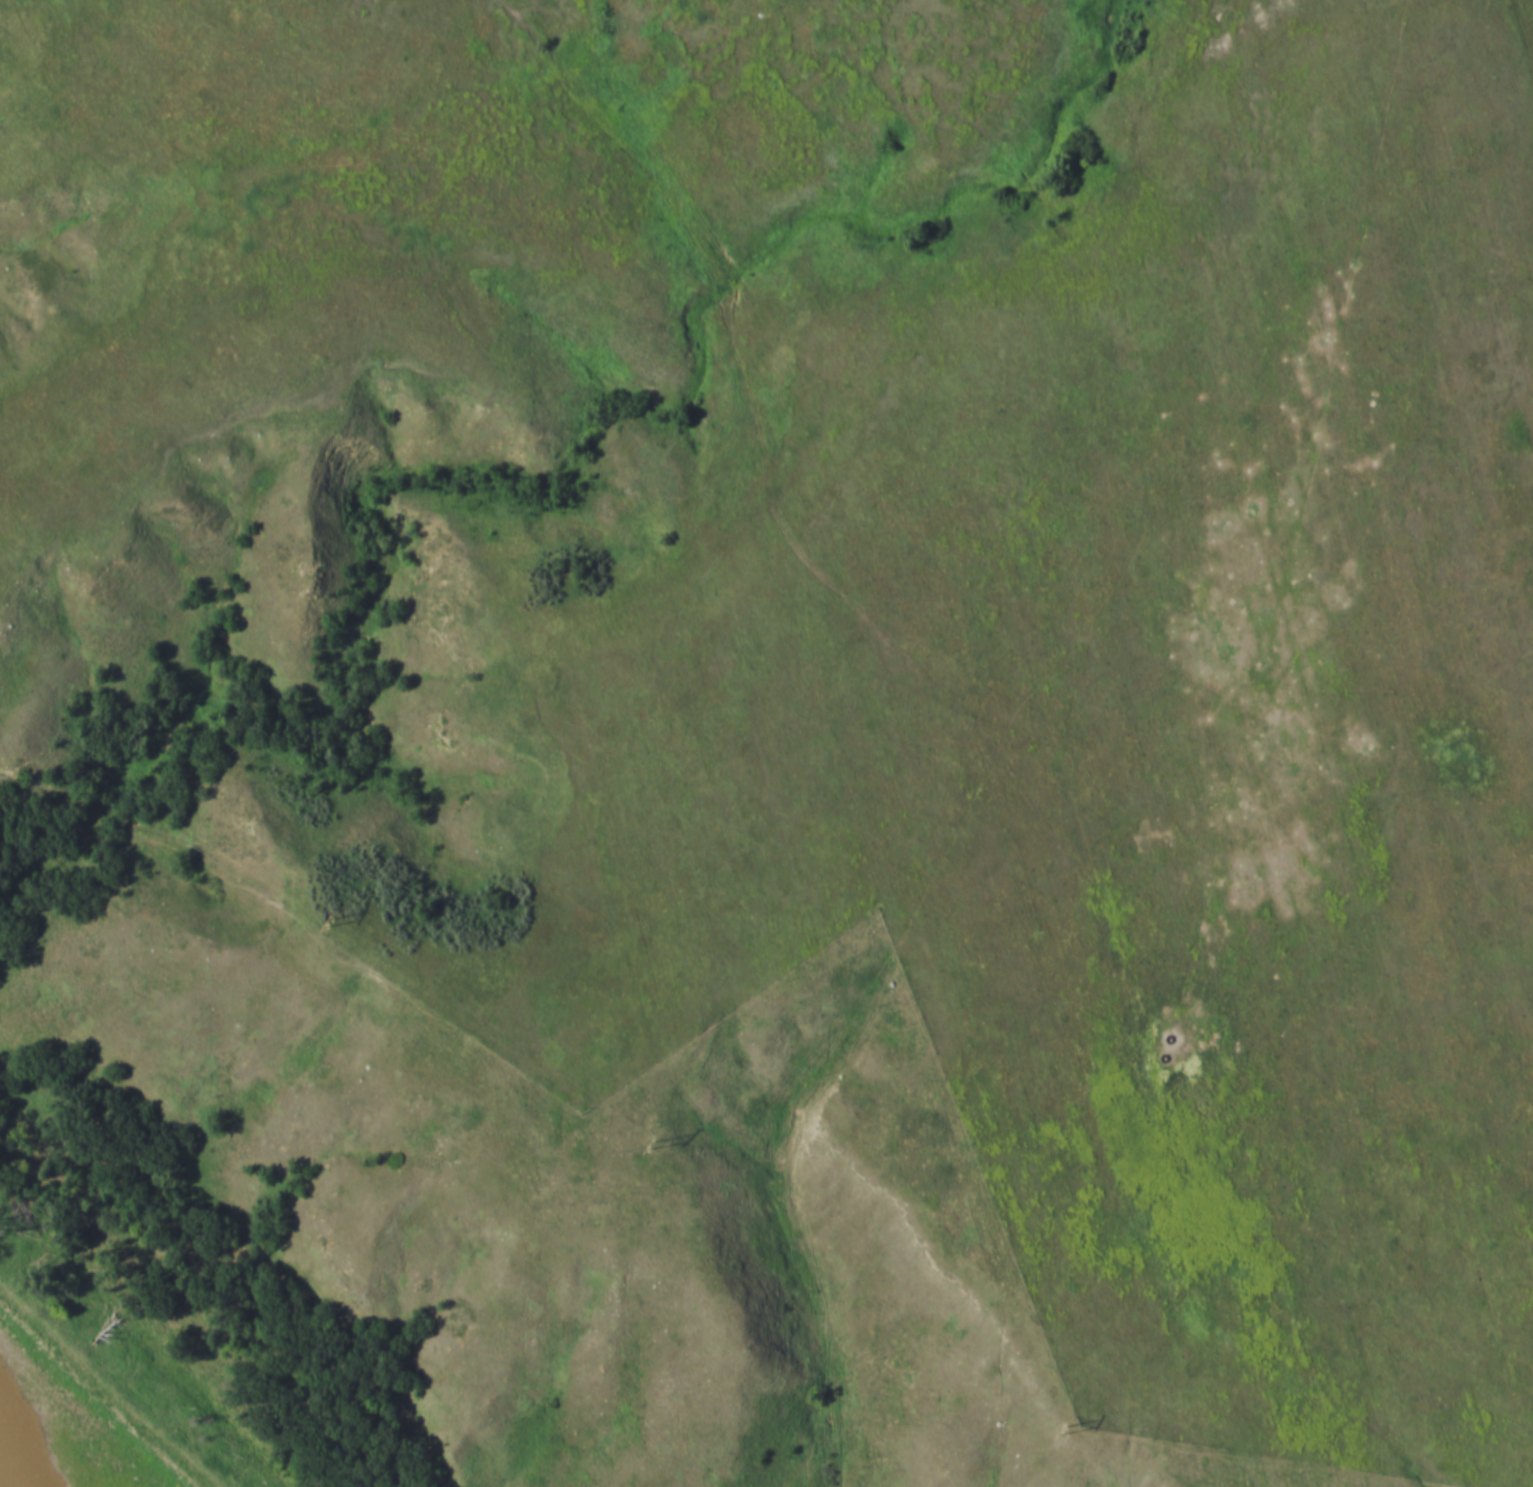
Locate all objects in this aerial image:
river: (41, 1445)

